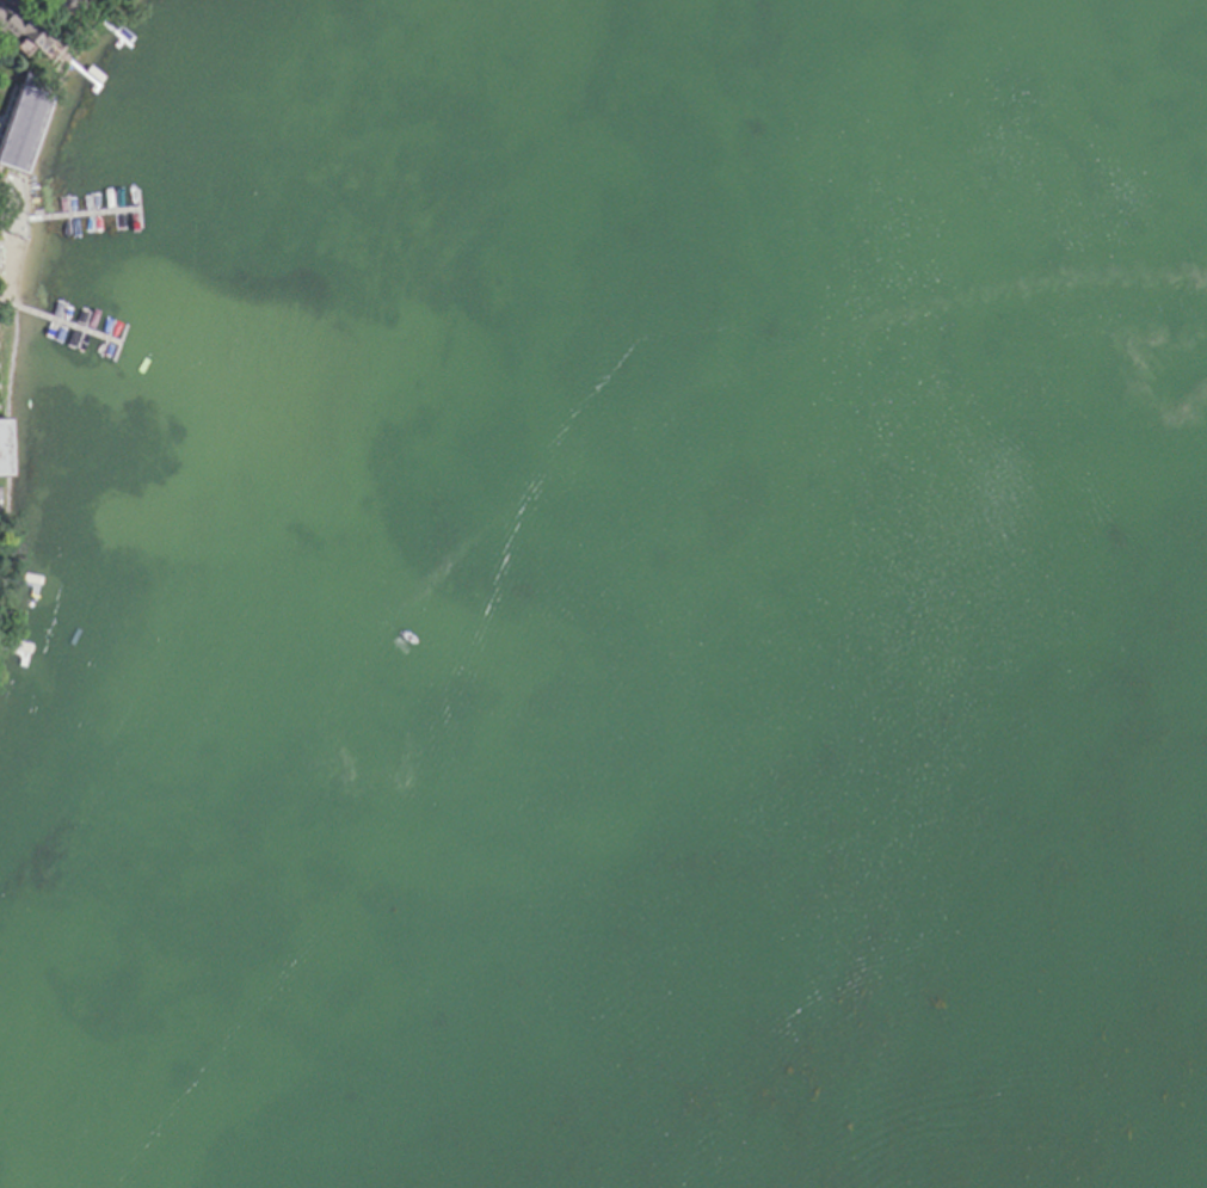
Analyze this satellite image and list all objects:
building: (75, 0)
building: (21, 33)
building: (16, 127)
building: (5, 450)

